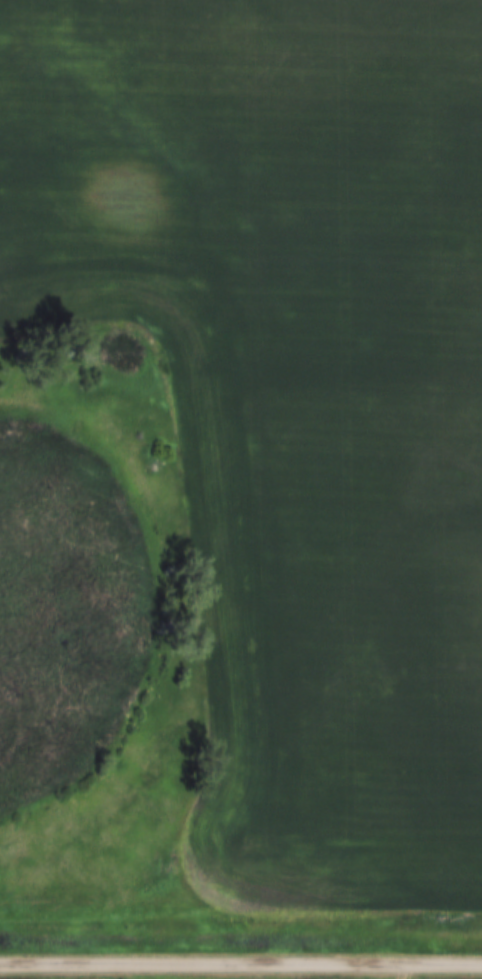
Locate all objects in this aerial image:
road: (240, 963)

